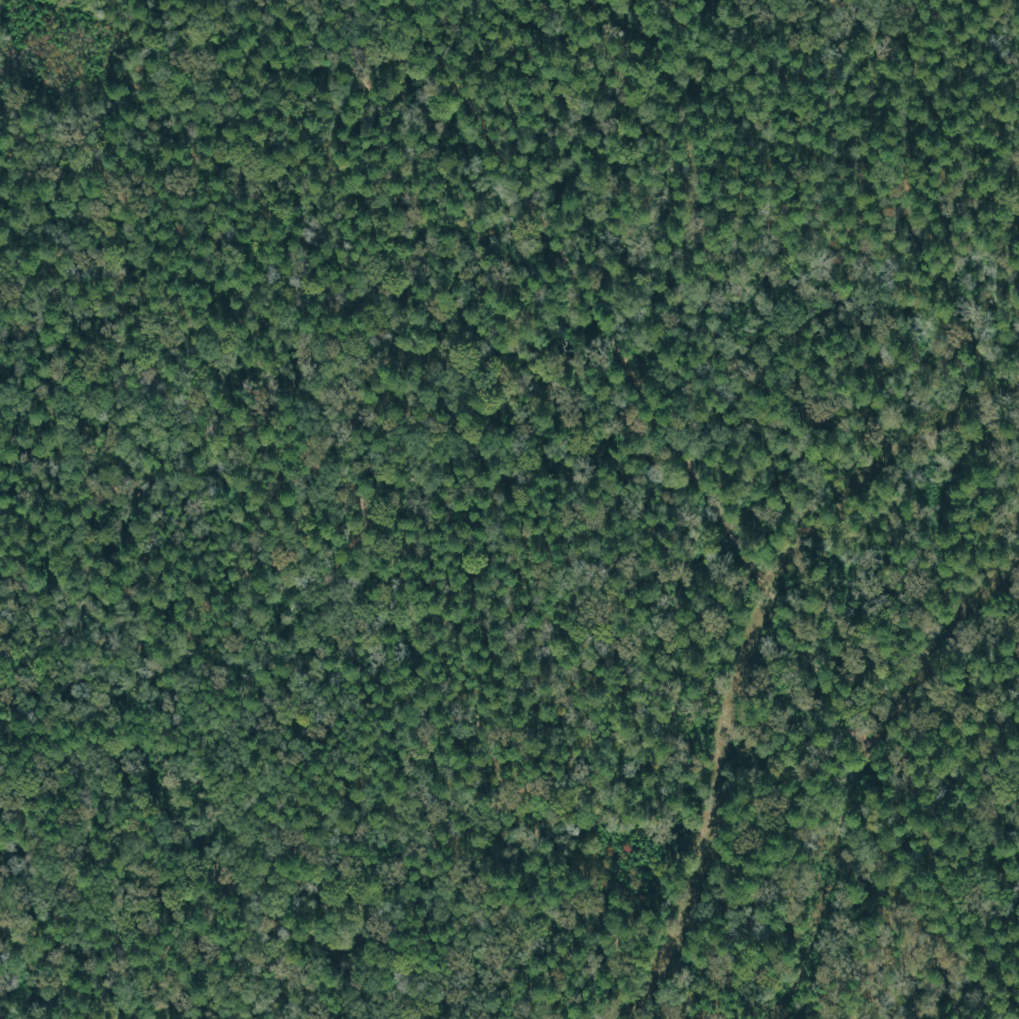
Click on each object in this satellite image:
road: (301, 441)
road: (706, 506)

